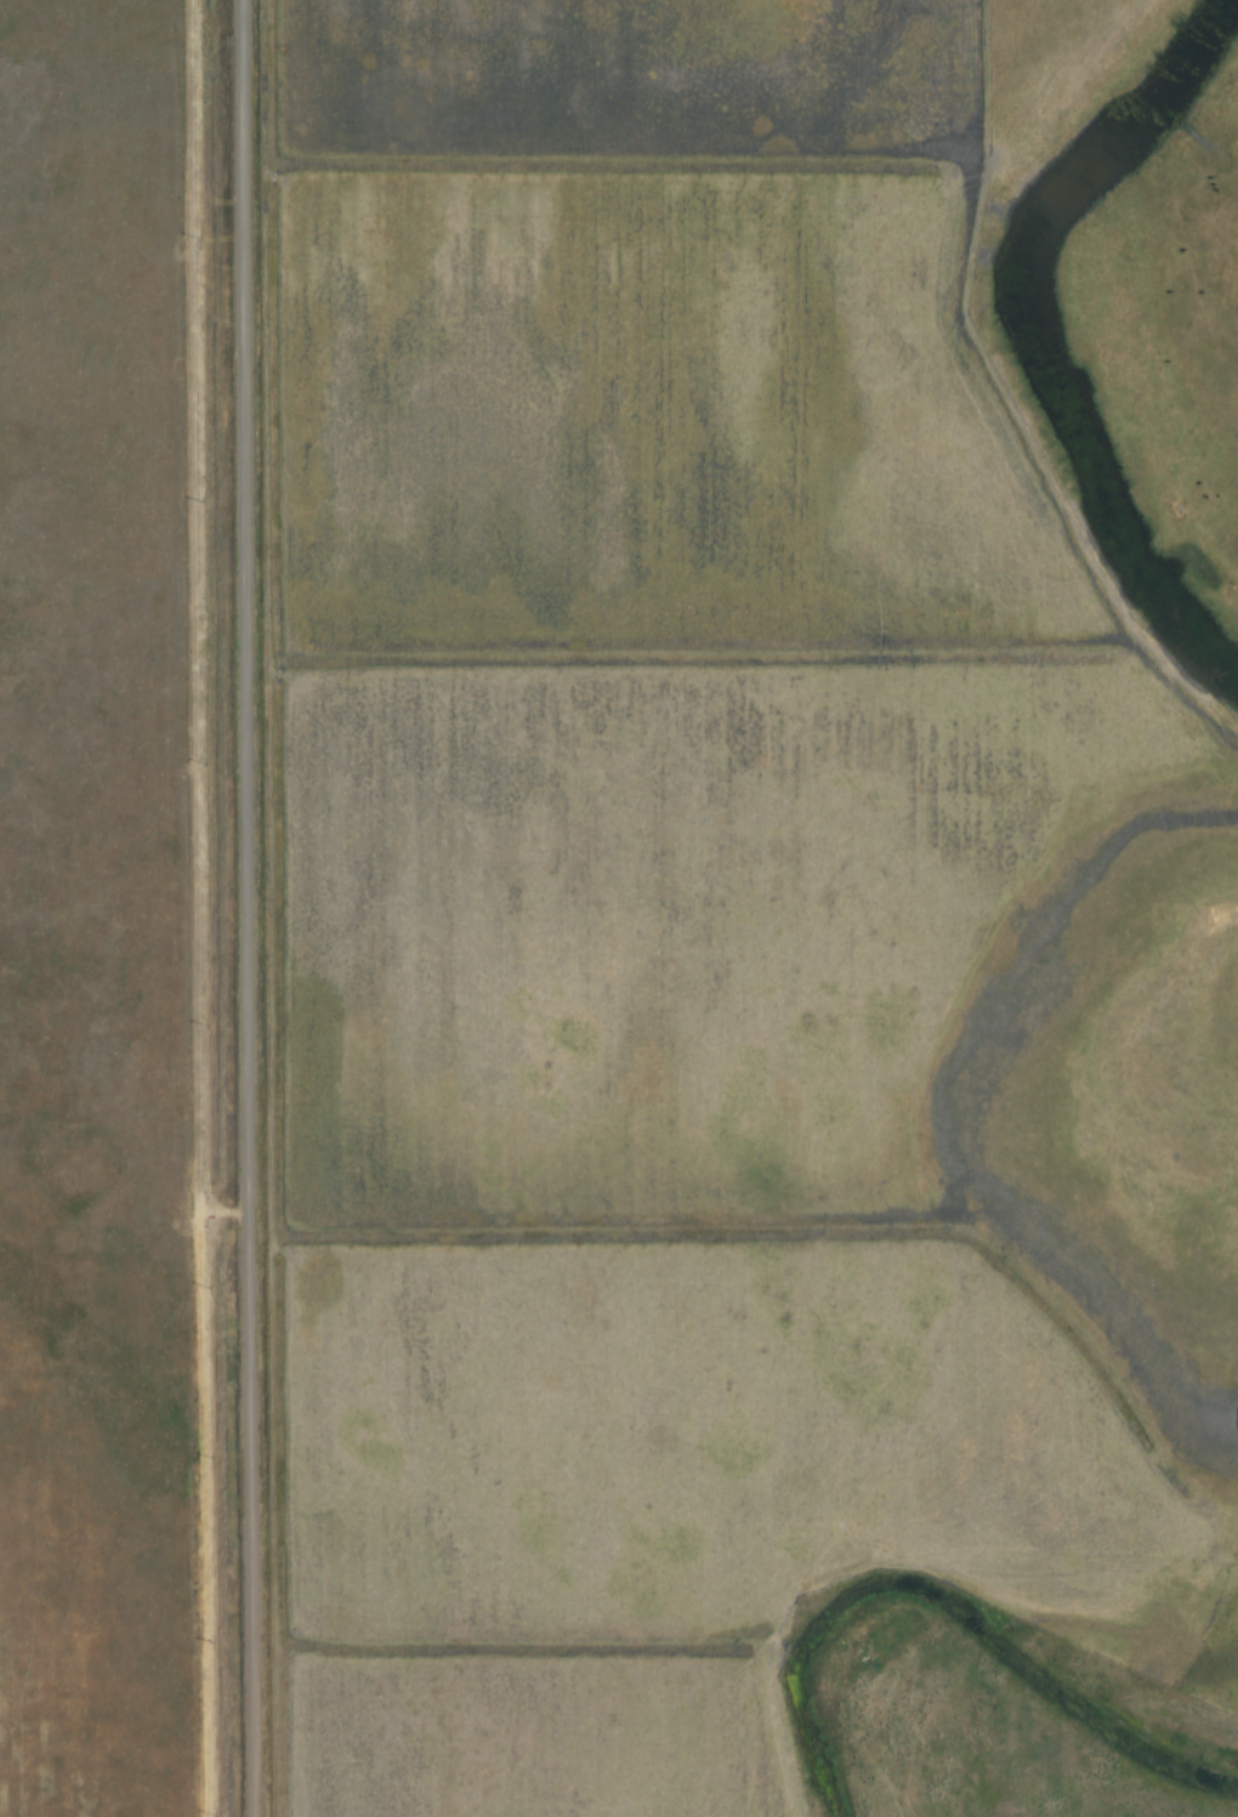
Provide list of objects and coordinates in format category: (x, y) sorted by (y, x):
crop: (634, 81)
crop: (654, 420)
road: (254, 908)
crop: (104, 922)
crop: (783, 970)
crop: (716, 1447)
crop: (1217, 1665)
crop: (535, 1734)

